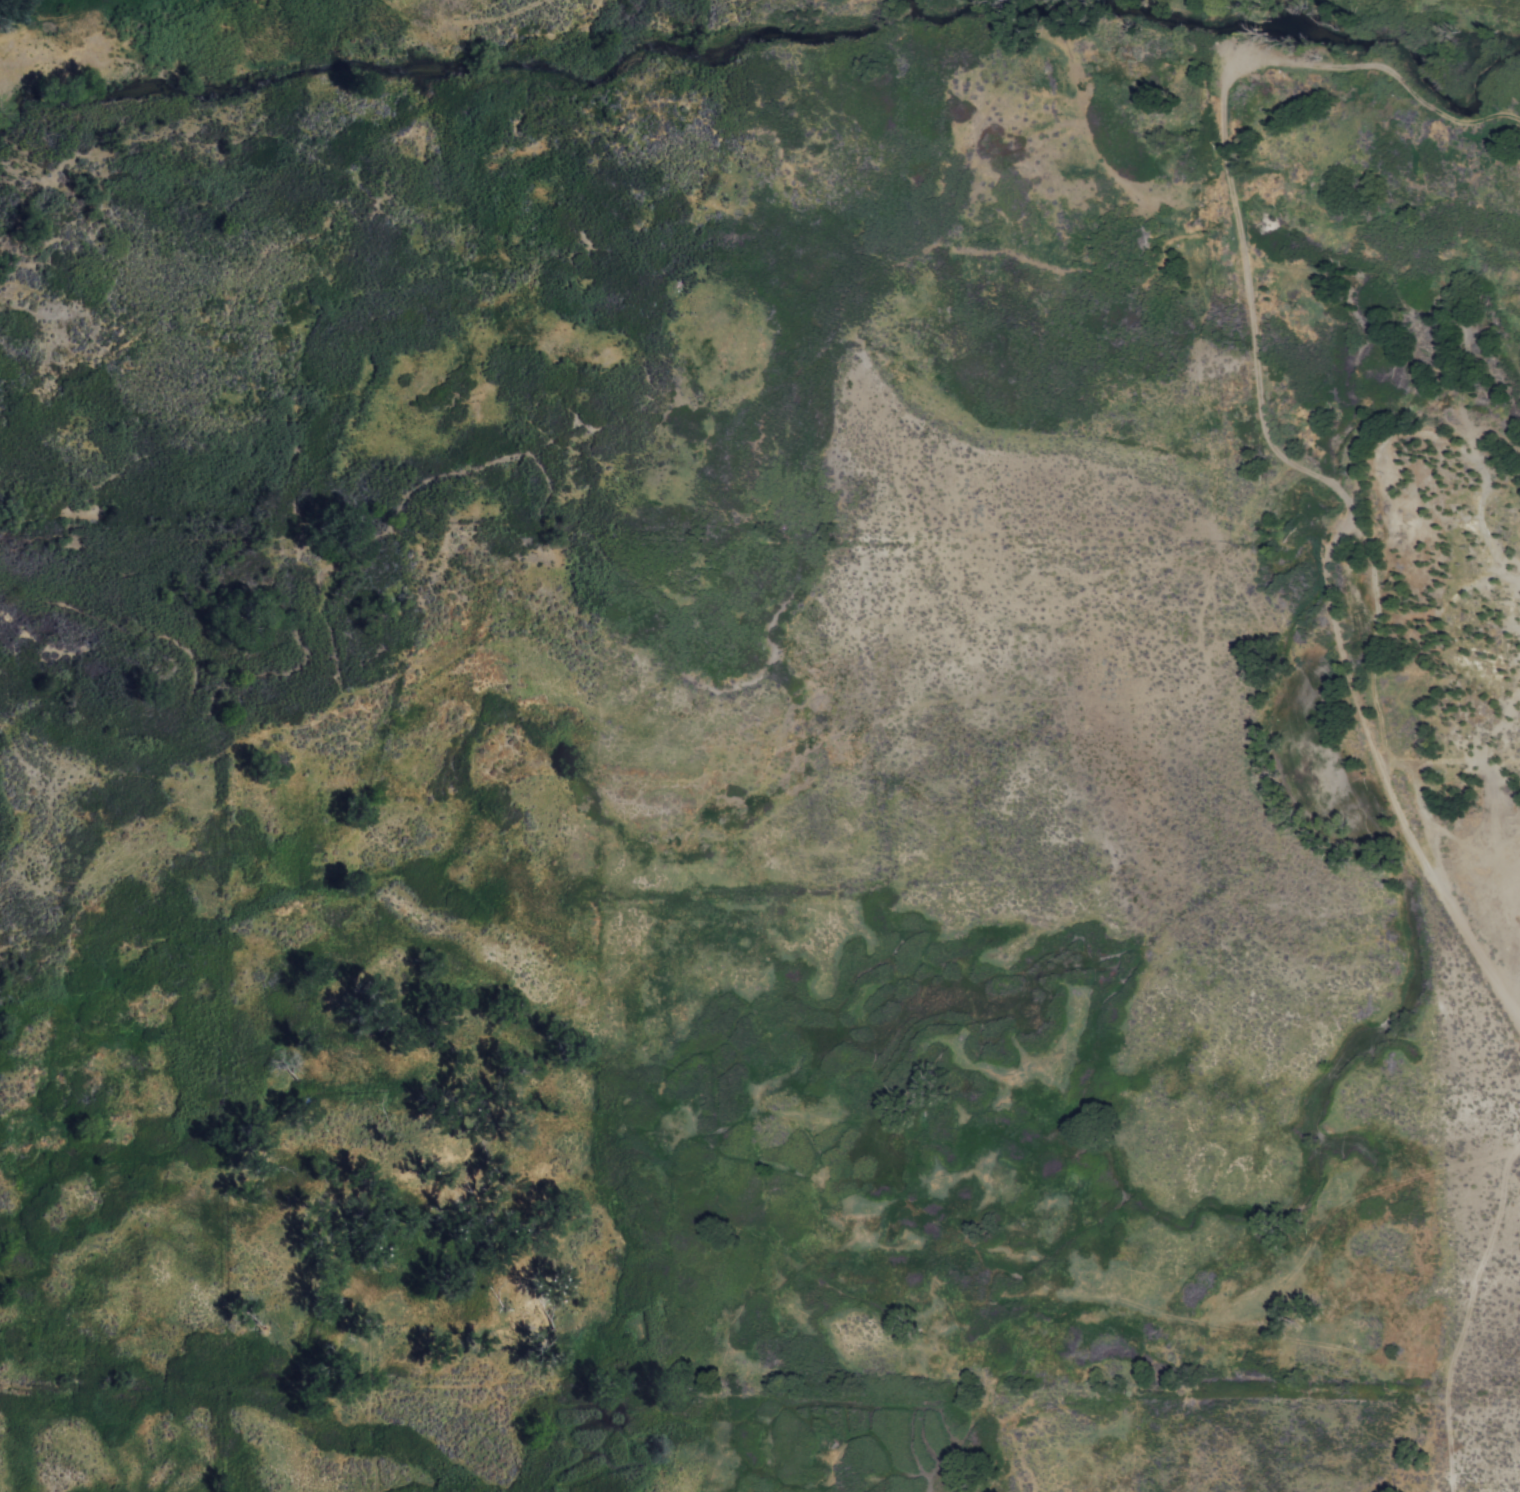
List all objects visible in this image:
road: (1352, 492)

